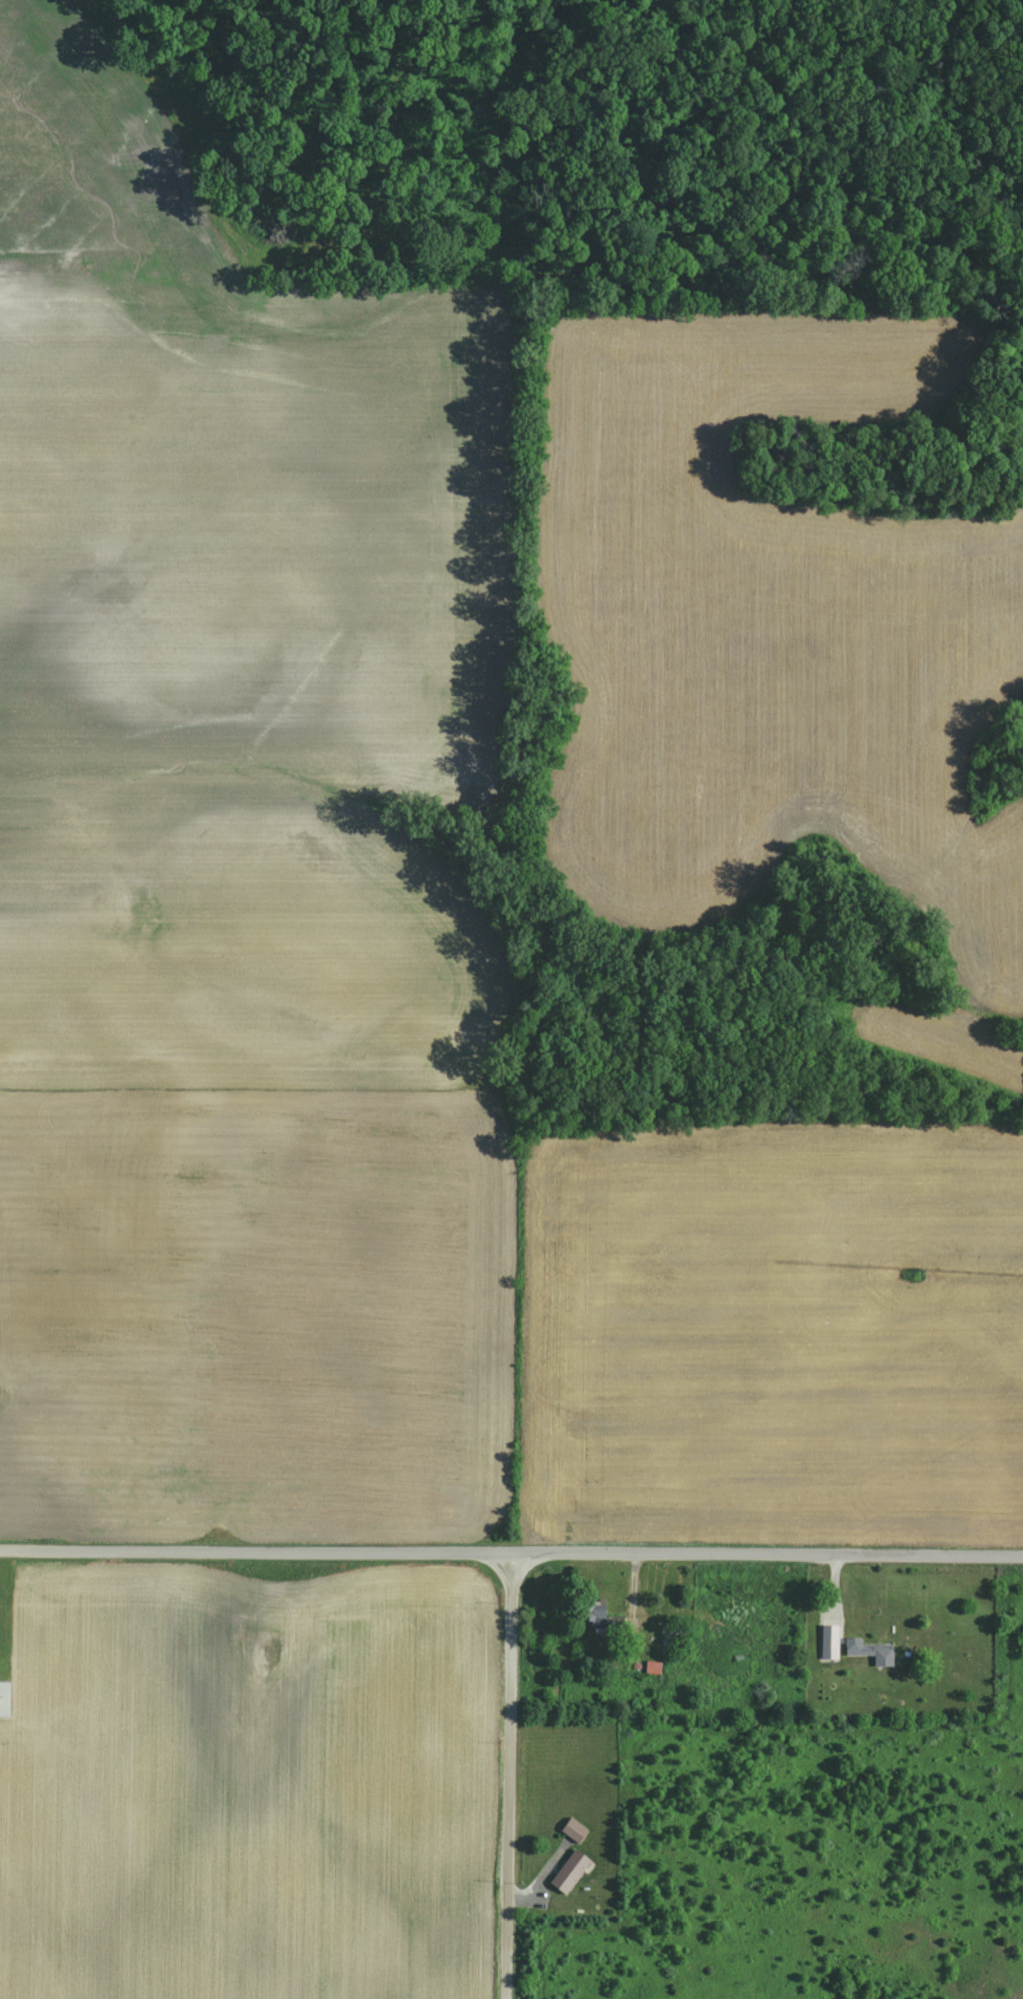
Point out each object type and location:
road: (511, 1552)
road: (635, 1584)
road: (835, 1589)
building: (594, 1617)
building: (830, 1648)
building: (868, 1648)
building: (652, 1666)
building: (3, 1697)
road: (506, 1775)
building: (573, 1829)
building: (570, 1871)
road: (539, 1877)

